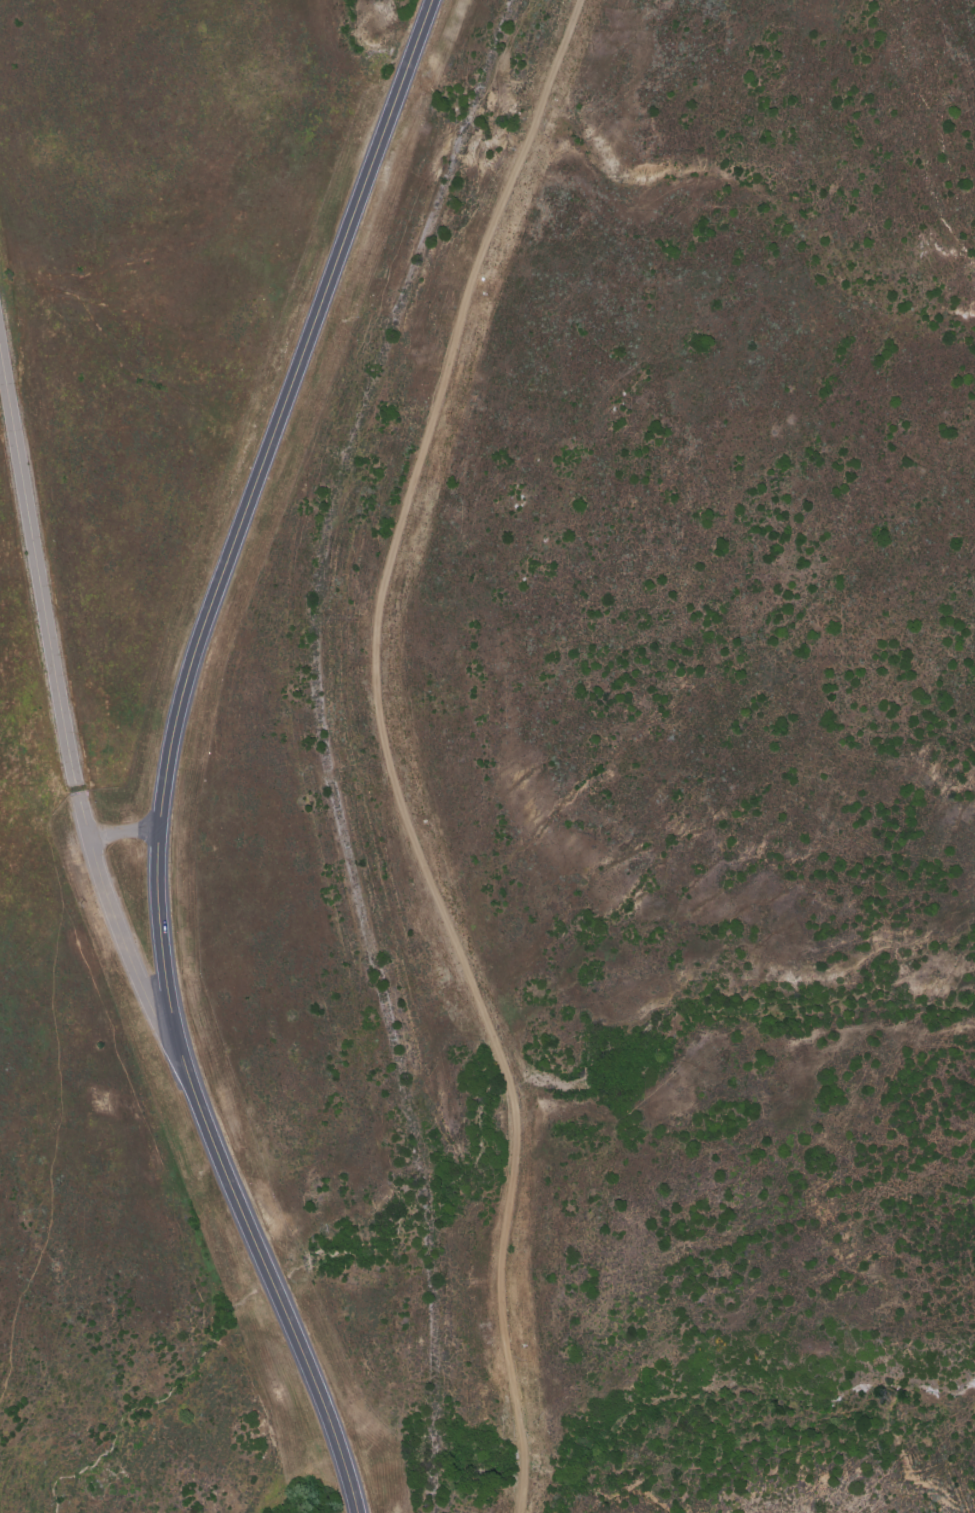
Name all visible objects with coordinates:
road: (65, 720)
road: (170, 750)
road: (386, 752)
road: (124, 830)

